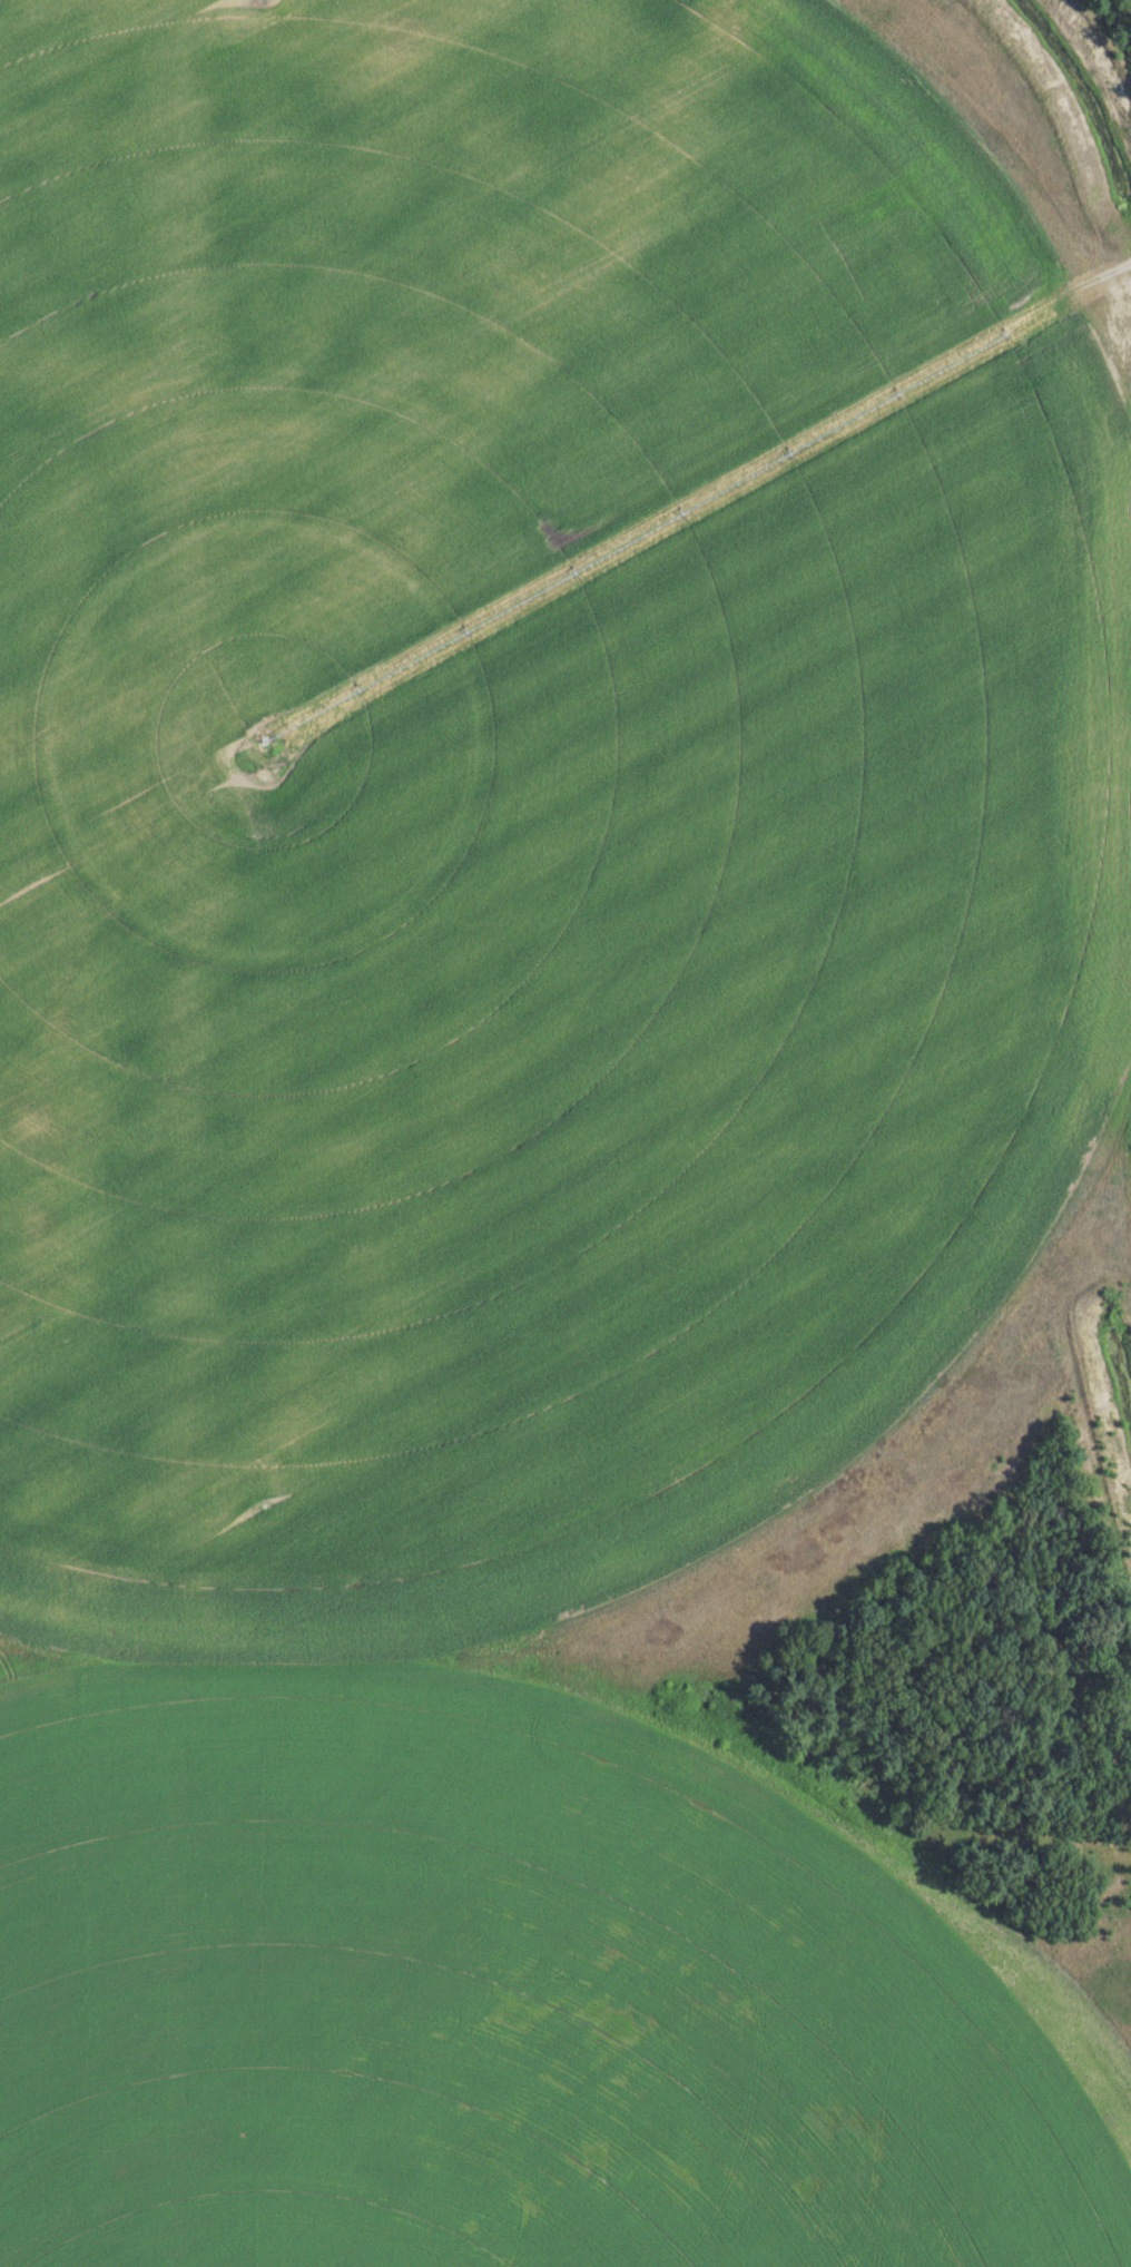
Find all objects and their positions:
wastewater plant: (565, 1133)

